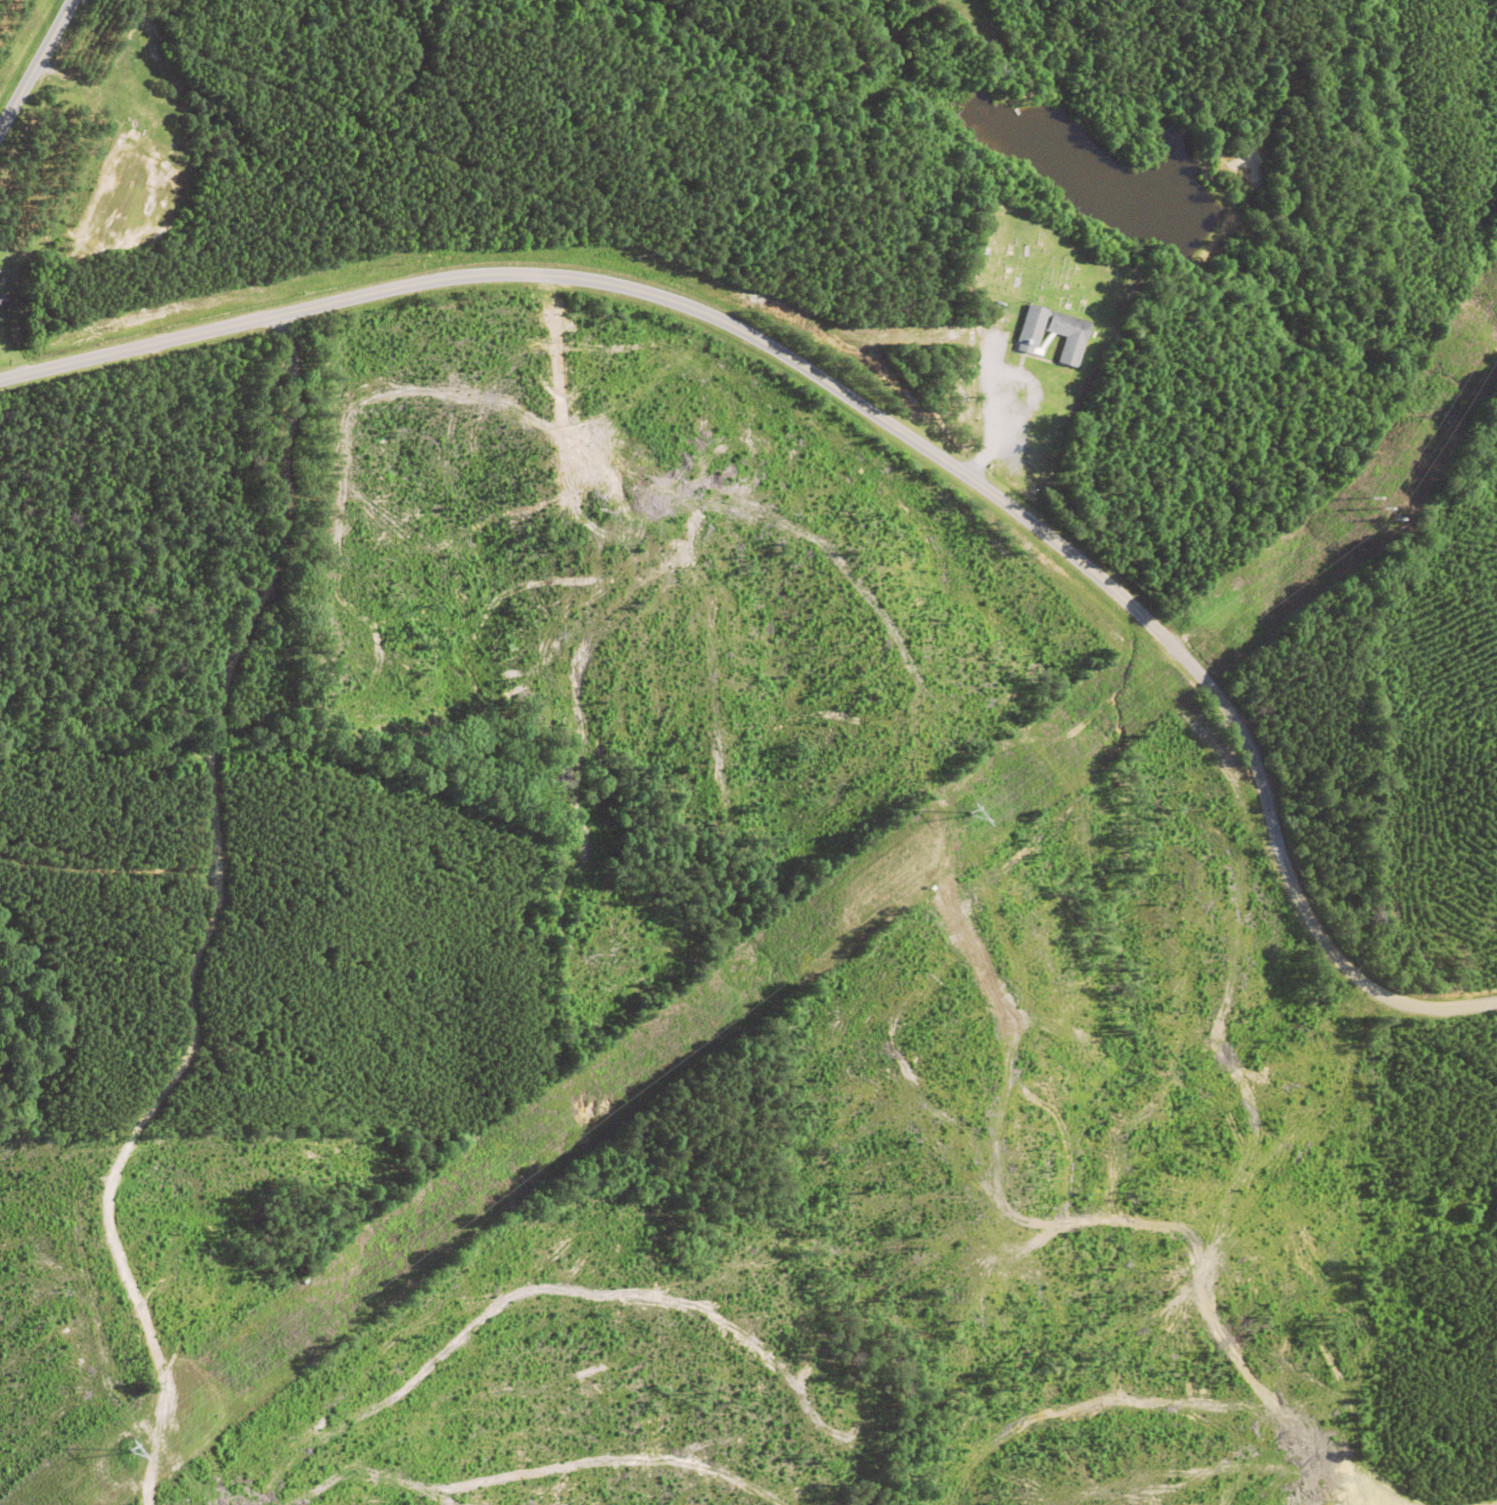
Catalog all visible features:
road: (37, 71)
building: (1069, 332)
road: (870, 412)
power tower: (1385, 508)
power tower: (974, 813)
power tower: (135, 1450)

